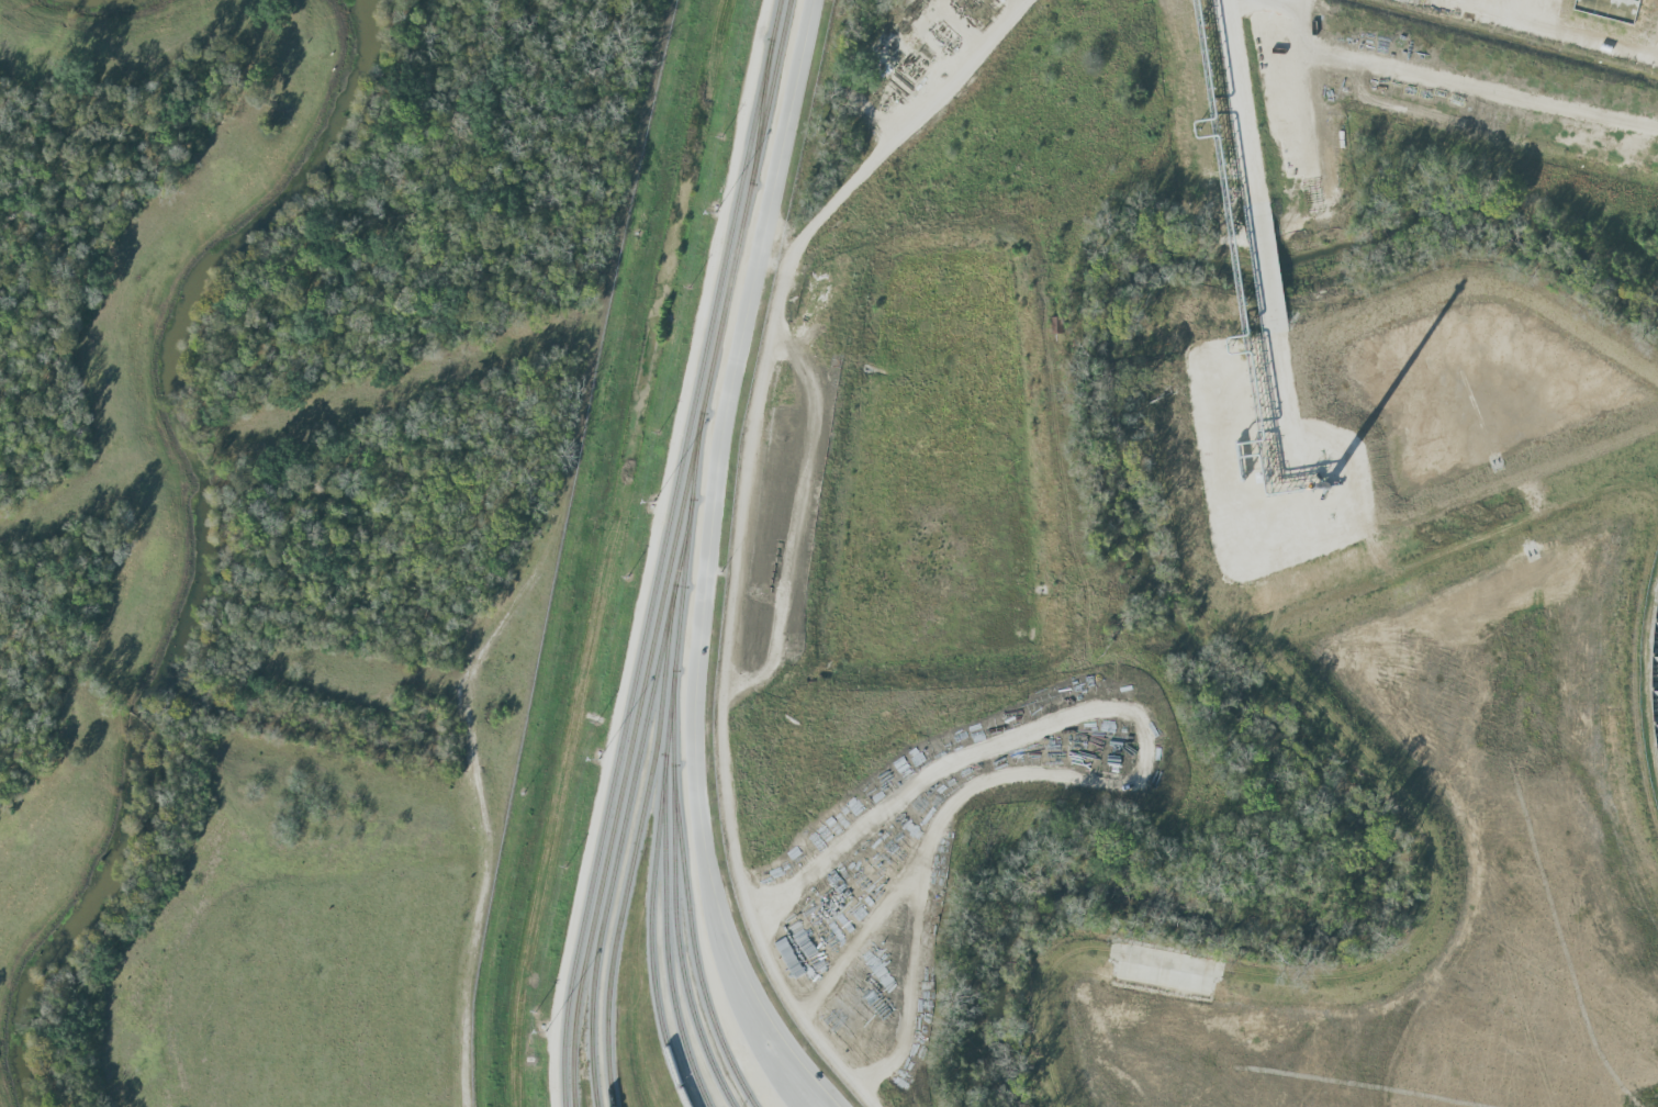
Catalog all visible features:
road: (741, 528)
river: (204, 539)
railway: (662, 551)
railway: (671, 551)
road: (704, 561)
railway: (1650, 681)
road: (478, 905)

